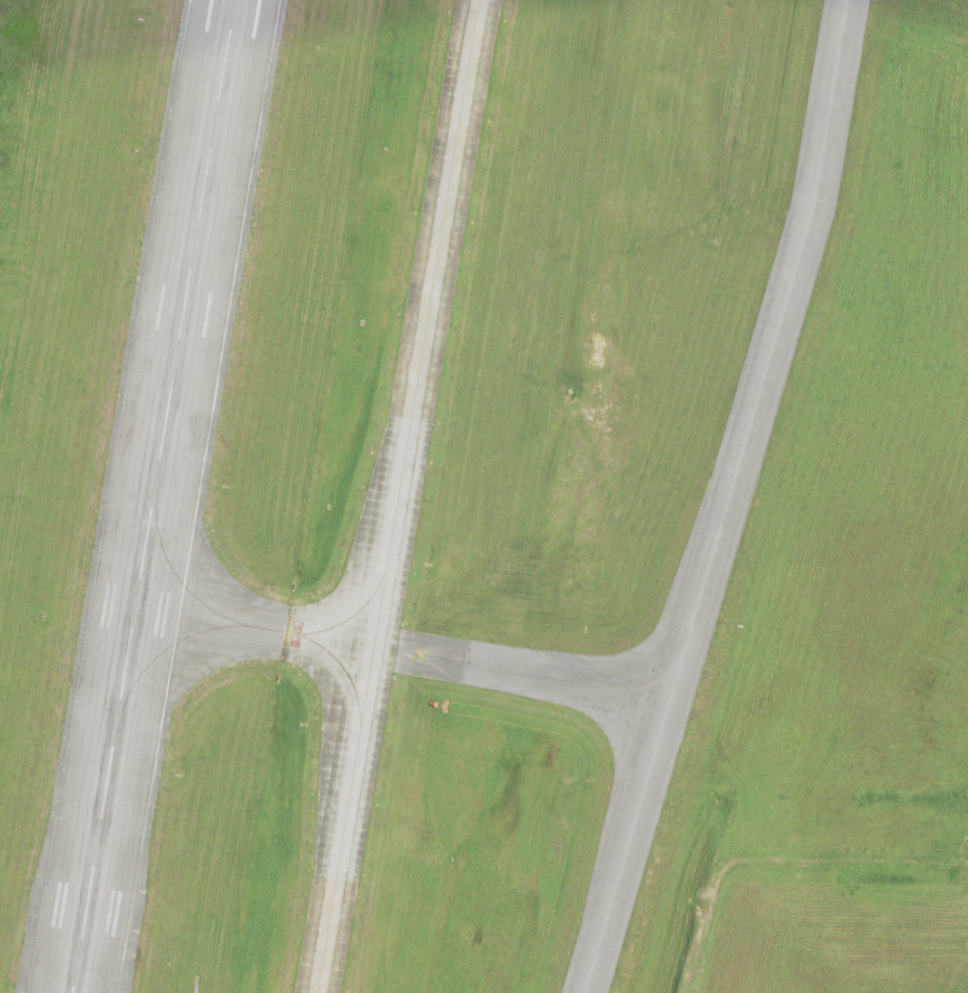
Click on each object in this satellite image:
airport runway: (155, 496)
airport taxiway: (397, 496)
airport: (484, 496)
airport taxiway: (254, 631)

